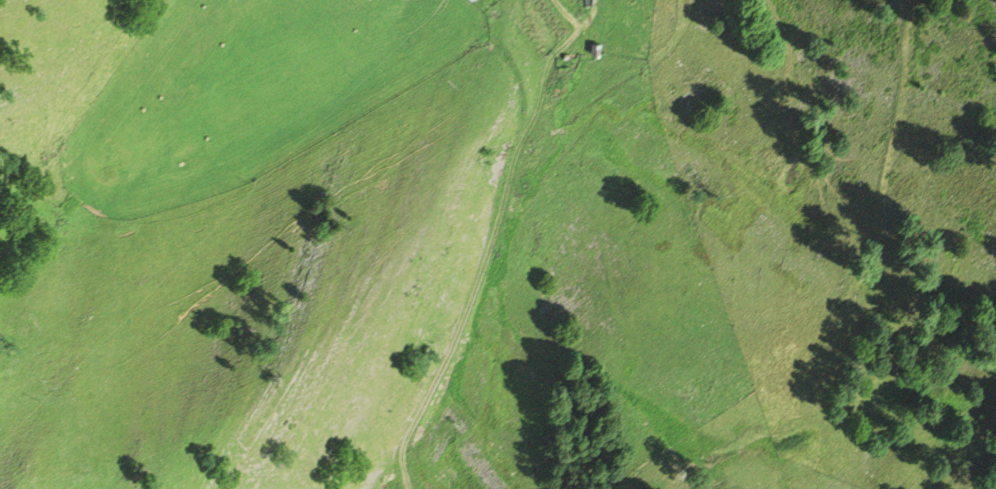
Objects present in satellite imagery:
road: (491, 240)

